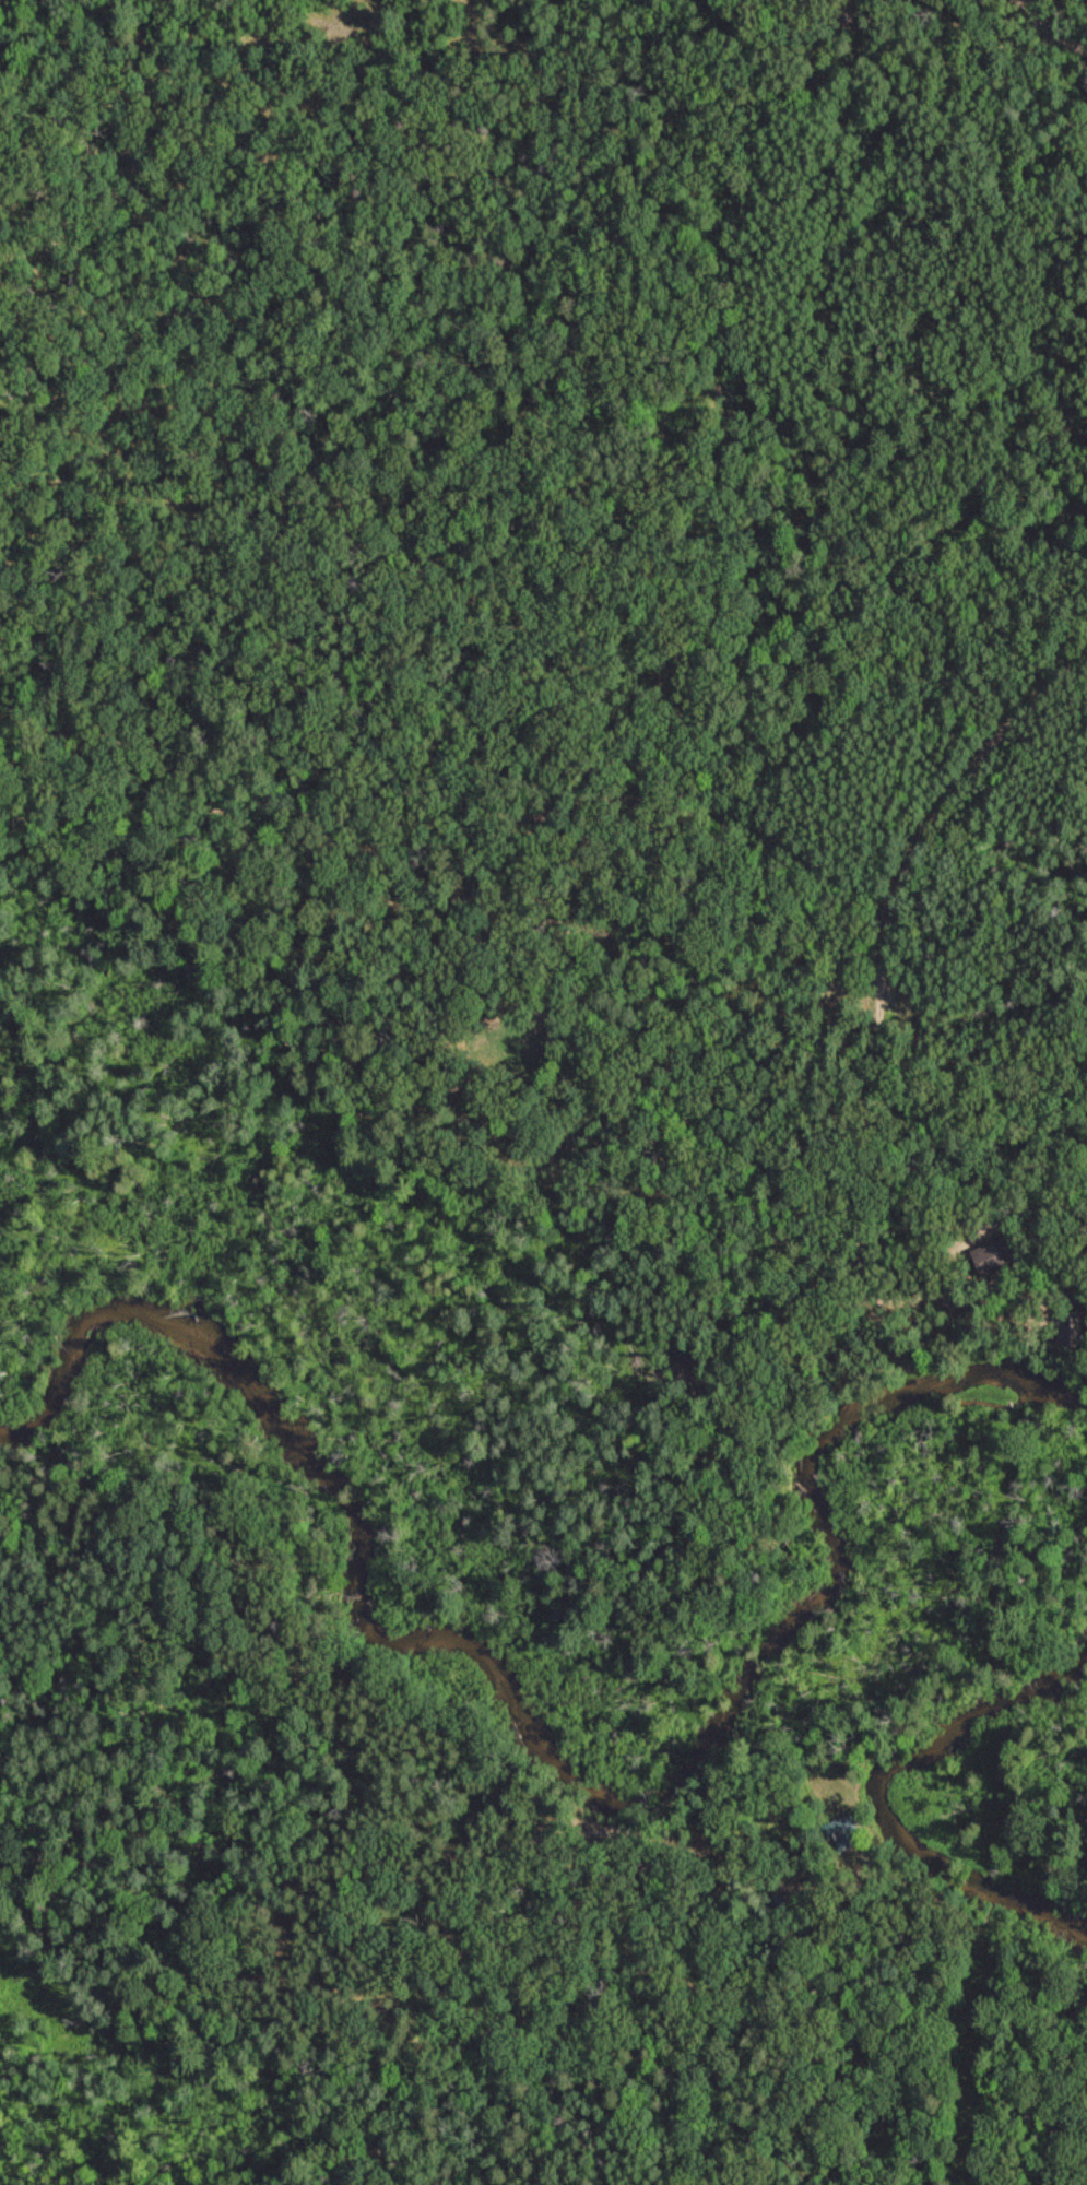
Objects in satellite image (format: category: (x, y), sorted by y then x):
road: (948, 815)
river: (563, 1753)
river: (883, 1802)
building: (841, 1831)
road: (492, 1890)

